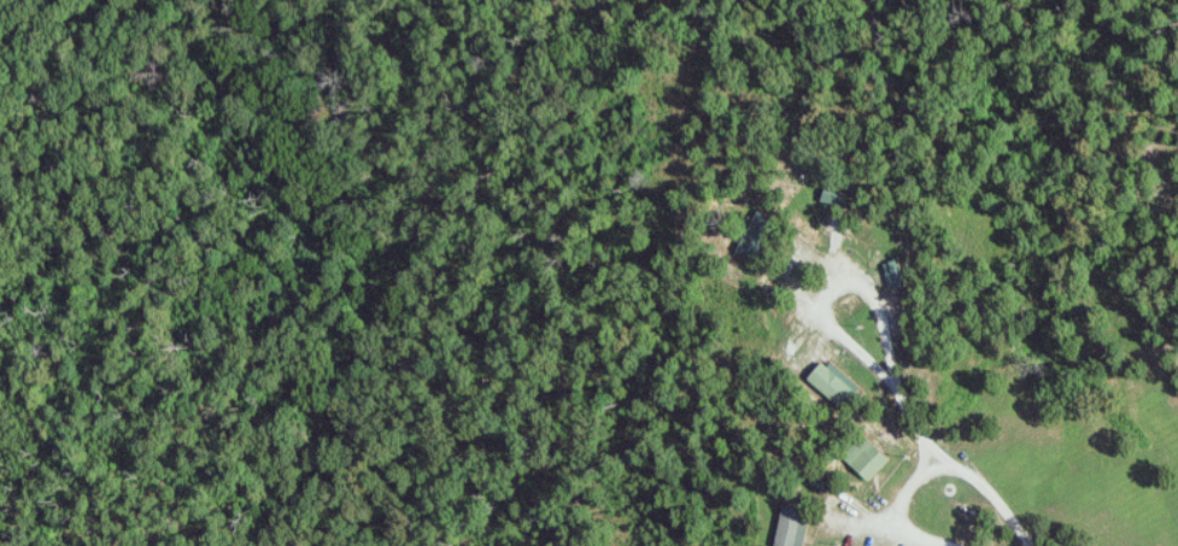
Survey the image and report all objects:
building: (834, 200)
building: (756, 236)
building: (895, 275)
building: (834, 384)
building: (866, 459)
road: (985, 487)
building: (792, 527)

